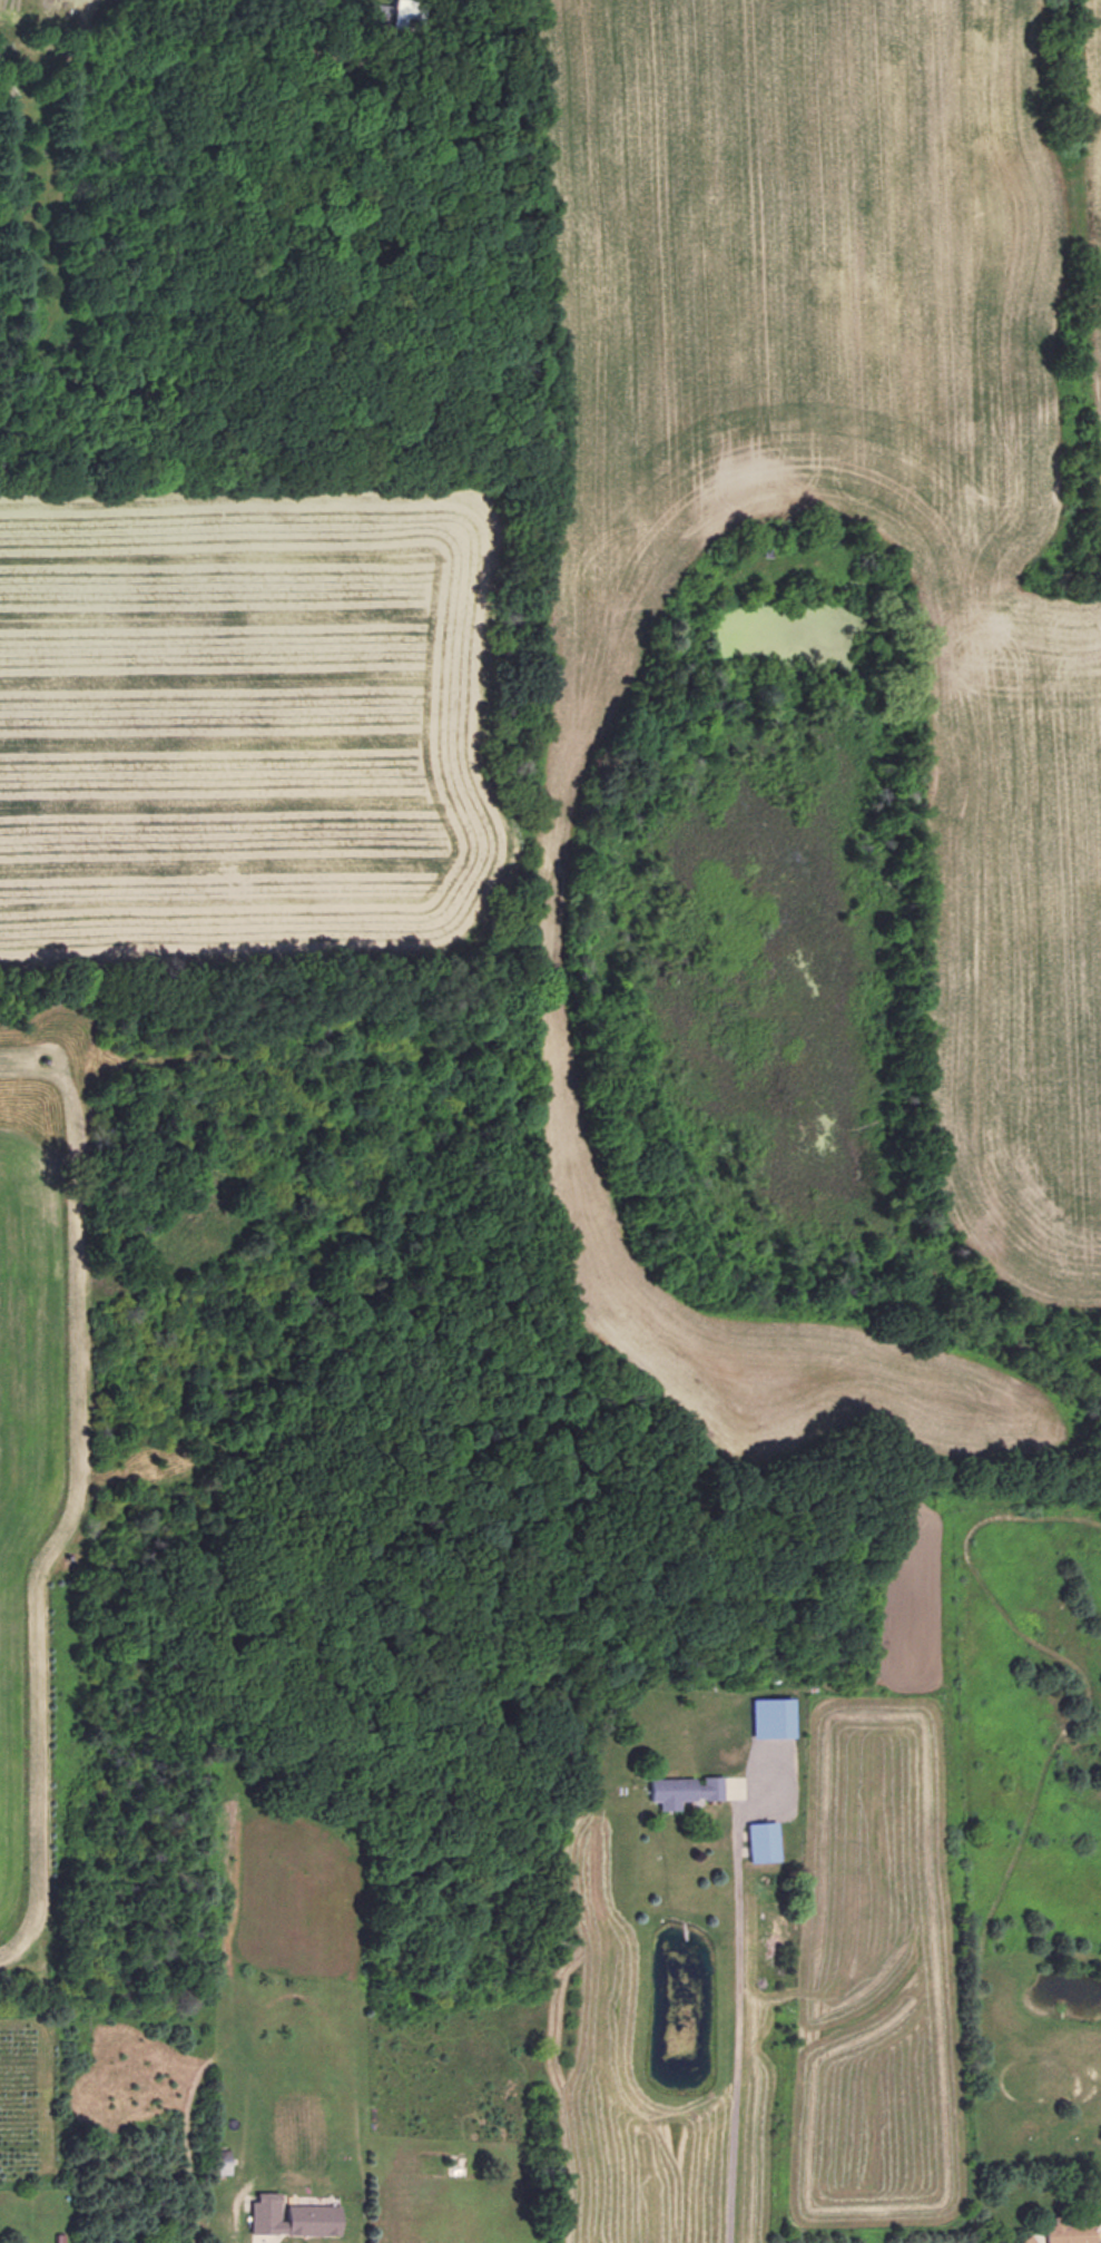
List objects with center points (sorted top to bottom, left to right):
building: (403, 13)
road: (334, 55)
building: (321, 77)
building: (769, 1717)
building: (681, 1790)
building: (760, 1841)
road: (734, 2029)
building: (289, 2216)
building: (1069, 2230)
building: (1025, 2240)

